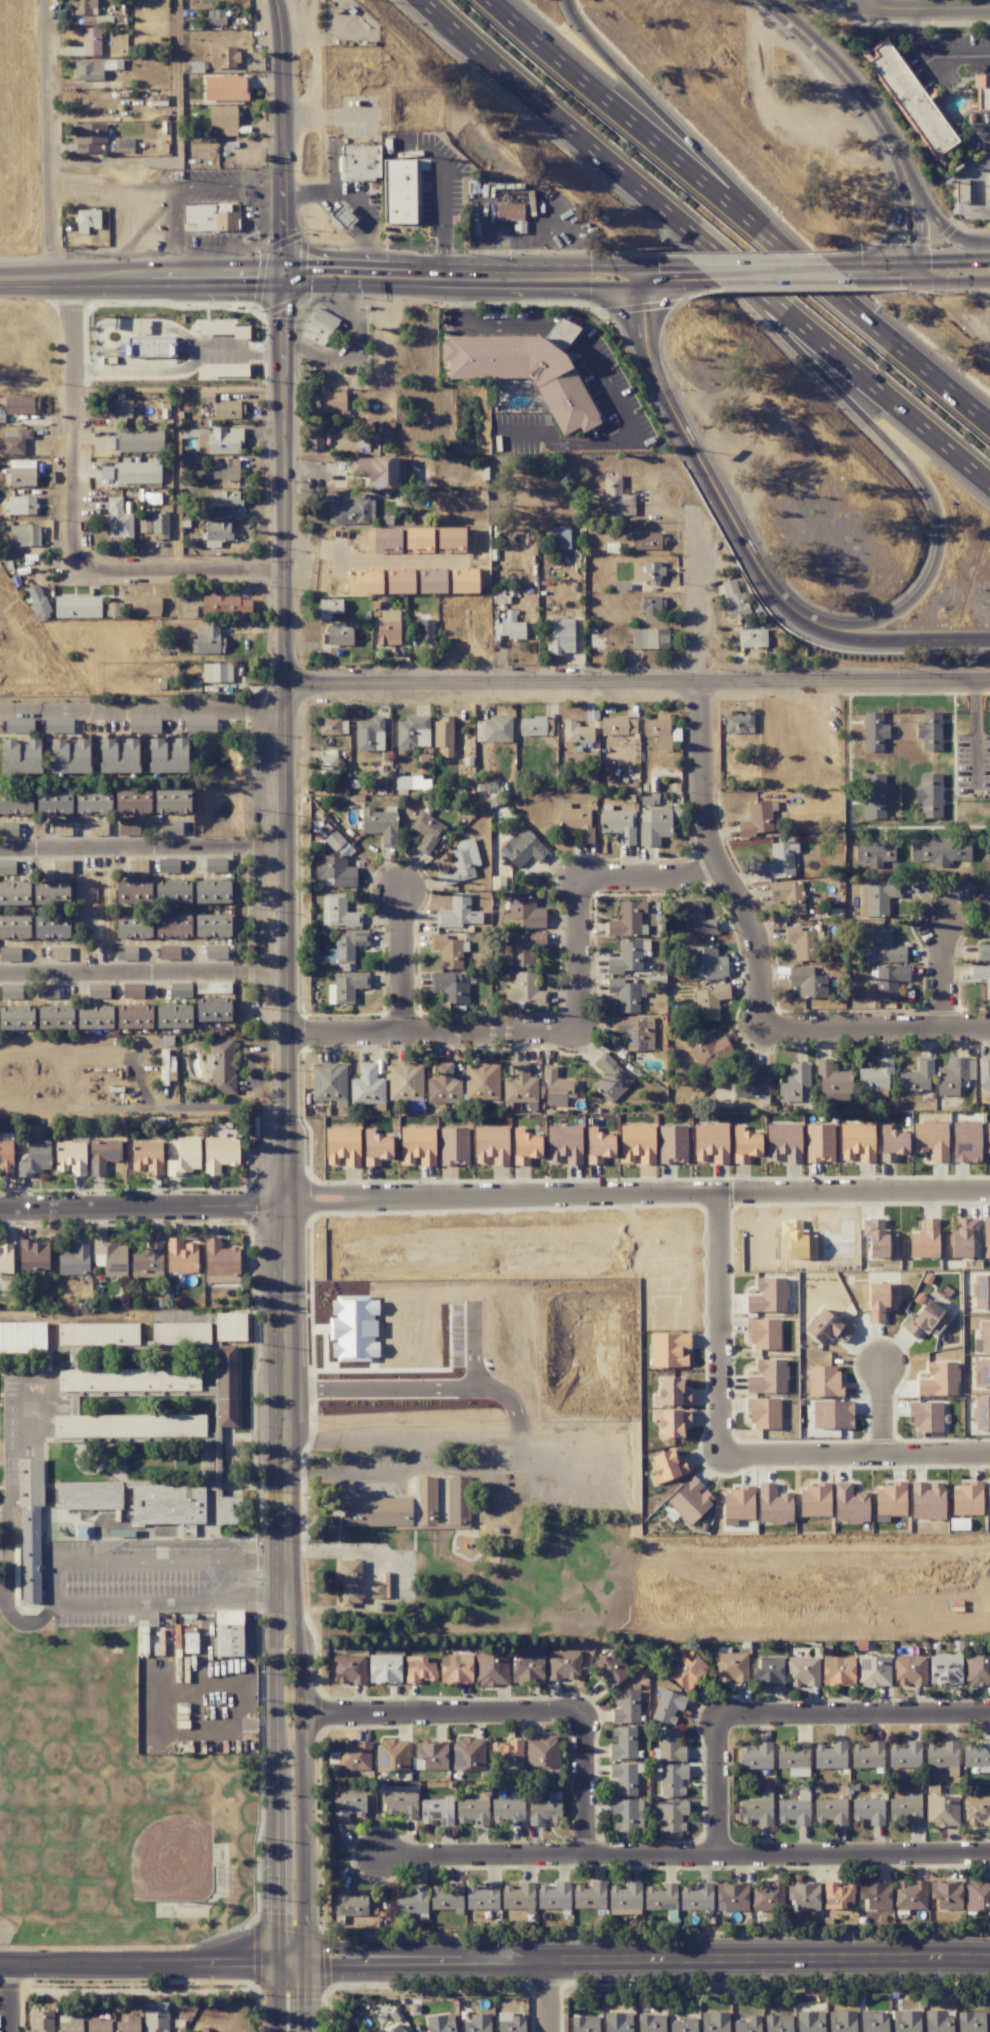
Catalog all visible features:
road: (838, 4)
building: (83, 7)
road: (905, 15)
building: (215, 17)
building: (91, 42)
building: (225, 58)
road: (934, 58)
road: (832, 62)
building: (91, 68)
building: (225, 88)
building: (982, 93)
building: (912, 99)
road: (545, 110)
building: (223, 119)
road: (987, 133)
building: (88, 137)
road: (279, 138)
road: (41, 140)
road: (661, 147)
road: (695, 149)
road: (903, 160)
building: (359, 162)
road: (896, 165)
road: (101, 182)
road: (176, 184)
road: (977, 186)
building: (989, 187)
building: (961, 190)
building: (398, 191)
road: (323, 195)
road: (441, 201)
building: (511, 215)
building: (211, 217)
building: (86, 220)
road: (919, 225)
road: (905, 228)
road: (943, 229)
road: (891, 235)
road: (508, 237)
road: (954, 261)
road: (882, 263)
traffic signals: (906, 263)
road: (912, 263)
traffic signals: (919, 263)
road: (761, 264)
road: (845, 264)
road: (617, 266)
traffic signals: (641, 266)
road: (411, 267)
road: (908, 272)
road: (915, 272)
road: (641, 276)
traffic signals: (282, 278)
road: (141, 279)
road: (880, 282)
traffic signals: (911, 282)
road: (950, 282)
road: (782, 284)
road: (678, 285)
road: (461, 286)
traffic signals: (642, 286)
road: (308, 310)
road: (490, 322)
building: (320, 327)
road: (560, 330)
building: (242, 332)
building: (148, 346)
road: (344, 351)
road: (831, 351)
road: (912, 358)
road: (181, 371)
building: (228, 371)
building: (525, 372)
building: (333, 402)
building: (21, 405)
building: (118, 409)
building: (228, 409)
road: (879, 433)
building: (314, 437)
building: (14, 441)
building: (139, 441)
building: (219, 441)
road: (627, 441)
road: (703, 467)
building: (227, 470)
building: (21, 472)
building: (138, 473)
building: (225, 498)
building: (616, 498)
building: (21, 505)
building: (351, 509)
building: (118, 519)
building: (144, 526)
building: (160, 526)
road: (73, 533)
building: (216, 533)
building: (24, 535)
building: (560, 537)
building: (450, 538)
building: (386, 539)
building: (418, 539)
building: (648, 541)
road: (381, 563)
building: (652, 572)
building: (464, 582)
building: (367, 583)
building: (400, 583)
building: (432, 583)
building: (734, 600)
building: (37, 602)
building: (226, 605)
building: (651, 605)
building: (77, 606)
building: (152, 606)
building: (329, 608)
building: (388, 627)
building: (509, 629)
building: (424, 630)
building: (339, 635)
building: (559, 635)
road: (901, 637)
building: (752, 638)
building: (650, 639)
building: (207, 640)
building: (217, 672)
road: (639, 682)
building: (158, 683)
road: (144, 710)
building: (739, 723)
building: (19, 725)
building: (59, 725)
building: (144, 725)
building: (200, 725)
building: (330, 726)
building: (535, 726)
building: (618, 726)
building: (494, 730)
building: (658, 730)
road: (977, 730)
building: (874, 731)
building: (930, 731)
building: (412, 732)
building: (576, 732)
building: (370, 734)
building: (443, 736)
building: (119, 756)
building: (21, 757)
building: (70, 757)
building: (168, 757)
building: (328, 766)
building: (412, 783)
building: (491, 785)
road: (697, 786)
building: (929, 795)
building: (875, 796)
building: (53, 802)
building: (93, 802)
building: (132, 802)
building: (172, 802)
building: (15, 803)
building: (756, 819)
building: (576, 821)
building: (380, 824)
building: (618, 824)
building: (654, 826)
building: (128, 828)
building: (170, 828)
building: (8, 829)
building: (427, 832)
building: (335, 841)
road: (144, 847)
building: (522, 848)
building: (988, 851)
building: (939, 852)
building: (874, 853)
building: (779, 860)
building: (461, 862)
building: (167, 865)
building: (215, 865)
building: (138, 866)
building: (7, 867)
building: (335, 871)
road: (656, 881)
building: (984, 891)
building: (133, 892)
building: (172, 892)
building: (212, 892)
building: (14, 893)
building: (51, 894)
building: (788, 895)
building: (875, 900)
building: (337, 912)
building: (525, 912)
building: (458, 913)
building: (628, 920)
building: (696, 920)
building: (212, 925)
building: (133, 926)
building: (173, 926)
building: (14, 927)
building: (51, 927)
building: (800, 942)
building: (347, 945)
building: (886, 946)
road: (289, 947)
building: (523, 949)
building: (447, 951)
building: (983, 951)
building: (125, 952)
building: (168, 952)
building: (216, 952)
building: (10, 953)
building: (626, 957)
building: (707, 961)
road: (583, 963)
road: (403, 970)
road: (144, 972)
building: (982, 977)
road: (945, 978)
building: (807, 982)
building: (888, 982)
building: (212, 987)
building: (347, 987)
building: (450, 987)
building: (525, 990)
building: (47, 991)
building: (11, 992)
building: (710, 1001)
building: (213, 1010)
building: (94, 1017)
building: (134, 1017)
building: (173, 1017)
building: (16, 1018)
building: (55, 1018)
road: (876, 1028)
building: (634, 1031)
road: (435, 1043)
building: (709, 1050)
building: (222, 1066)
building: (166, 1067)
building: (984, 1074)
building: (875, 1075)
building: (954, 1075)
building: (917, 1077)
building: (611, 1079)
building: (481, 1081)
building: (329, 1082)
building: (405, 1082)
building: (793, 1082)
building: (833, 1083)
building: (754, 1084)
building: (443, 1085)
building: (519, 1085)
building: (367, 1086)
building: (557, 1088)
building: (988, 1136)
building: (931, 1139)
building: (966, 1141)
building: (784, 1142)
building: (857, 1142)
building: (710, 1143)
building: (819, 1143)
building: (564, 1144)
building: (638, 1144)
building: (672, 1144)
building: (745, 1144)
building: (418, 1145)
building: (491, 1145)
building: (893, 1145)
building: (343, 1146)
building: (453, 1146)
building: (525, 1147)
building: (219, 1153)
building: (6, 1154)
building: (102, 1155)
building: (36, 1157)
building: (147, 1157)
building: (184, 1157)
building: (70, 1158)
road: (852, 1190)
road: (499, 1196)
road: (142, 1205)
building: (986, 1237)
building: (959, 1239)
building: (925, 1240)
building: (881, 1244)
building: (33, 1255)
building: (180, 1256)
building: (112, 1257)
building: (6, 1258)
building: (75, 1259)
building: (148, 1259)
building: (220, 1259)
building: (983, 1293)
building: (768, 1296)
building: (881, 1300)
building: (924, 1320)
road: (718, 1324)
building: (230, 1327)
building: (353, 1328)
building: (830, 1330)
building: (97, 1334)
building: (180, 1334)
building: (984, 1336)
building: (22, 1337)
road: (473, 1344)
building: (669, 1349)
building: (768, 1377)
building: (128, 1380)
building: (939, 1380)
building: (824, 1381)
road: (402, 1385)
building: (226, 1386)
building: (671, 1393)
road: (885, 1409)
building: (763, 1413)
building: (982, 1413)
building: (831, 1414)
building: (925, 1417)
building: (671, 1422)
building: (128, 1426)
road: (404, 1446)
road: (855, 1454)
building: (666, 1467)
road: (415, 1468)
building: (88, 1495)
building: (458, 1500)
building: (966, 1500)
building: (988, 1500)
building: (690, 1501)
building: (889, 1501)
building: (927, 1501)
building: (814, 1502)
building: (738, 1503)
building: (167, 1504)
building: (850, 1504)
building: (773, 1505)
building: (394, 1508)
building: (230, 1510)
building: (30, 1528)
building: (349, 1581)
road: (53, 1586)
building: (228, 1633)
building: (190, 1643)
building: (563, 1665)
building: (731, 1667)
building: (455, 1668)
building: (349, 1669)
building: (384, 1669)
building: (418, 1669)
building: (528, 1669)
building: (611, 1669)
building: (945, 1669)
building: (491, 1670)
building: (838, 1670)
building: (909, 1670)
building: (977, 1670)
building: (768, 1671)
building: (803, 1671)
building: (874, 1671)
building: (686, 1672)
road: (281, 1675)
building: (668, 1706)
building: (626, 1707)
road: (853, 1711)
road: (444, 1713)
building: (623, 1743)
building: (669, 1746)
building: (542, 1752)
building: (507, 1753)
building: (468, 1754)
building: (942, 1754)
building: (867, 1755)
building: (904, 1755)
building: (354, 1756)
building: (431, 1756)
building: (756, 1756)
building: (793, 1756)
building: (830, 1756)
building: (977, 1756)
road: (304, 1777)
building: (624, 1778)
building: (672, 1779)
road: (586, 1785)
road: (717, 1786)
building: (401, 1803)
building: (348, 1805)
building: (795, 1809)
building: (906, 1809)
building: (757, 1810)
building: (976, 1810)
building: (436, 1811)
building: (471, 1811)
building: (508, 1811)
building: (830, 1811)
building: (868, 1811)
building: (942, 1811)
building: (626, 1814)
building: (671, 1815)
road: (685, 1858)
road: (277, 1865)
building: (946, 1894)
building: (977, 1894)
building: (804, 1895)
building: (875, 1895)
building: (910, 1895)
building: (482, 1896)
building: (518, 1896)
building: (554, 1896)
building: (589, 1896)
building: (837, 1896)
building: (447, 1897)
building: (660, 1897)
building: (696, 1897)
building: (731, 1897)
building: (767, 1897)
building: (624, 1898)
building: (411, 1901)
building: (349, 1903)
road: (301, 1953)
road: (644, 1958)
road: (150, 1960)
traffic signals: (275, 1960)
traffic signals: (300, 1961)
road: (549, 1995)
road: (13, 1996)
road: (299, 1996)
road: (273, 2014)
building: (41, 2021)
building: (155, 2021)
building: (810, 2021)
building: (842, 2021)
building: (874, 2021)
building: (905, 2021)
building: (937, 2021)
building: (617, 2022)
building: (715, 2022)
building: (970, 2022)
building: (441, 2023)
building: (477, 2023)
building: (511, 2023)
building: (651, 2023)
building: (778, 2023)
building: (128, 2024)
building: (584, 2024)
building: (98, 2025)
building: (684, 2025)
building: (748, 2025)
building: (396, 2028)
building: (989, 2028)
building: (202, 2030)

